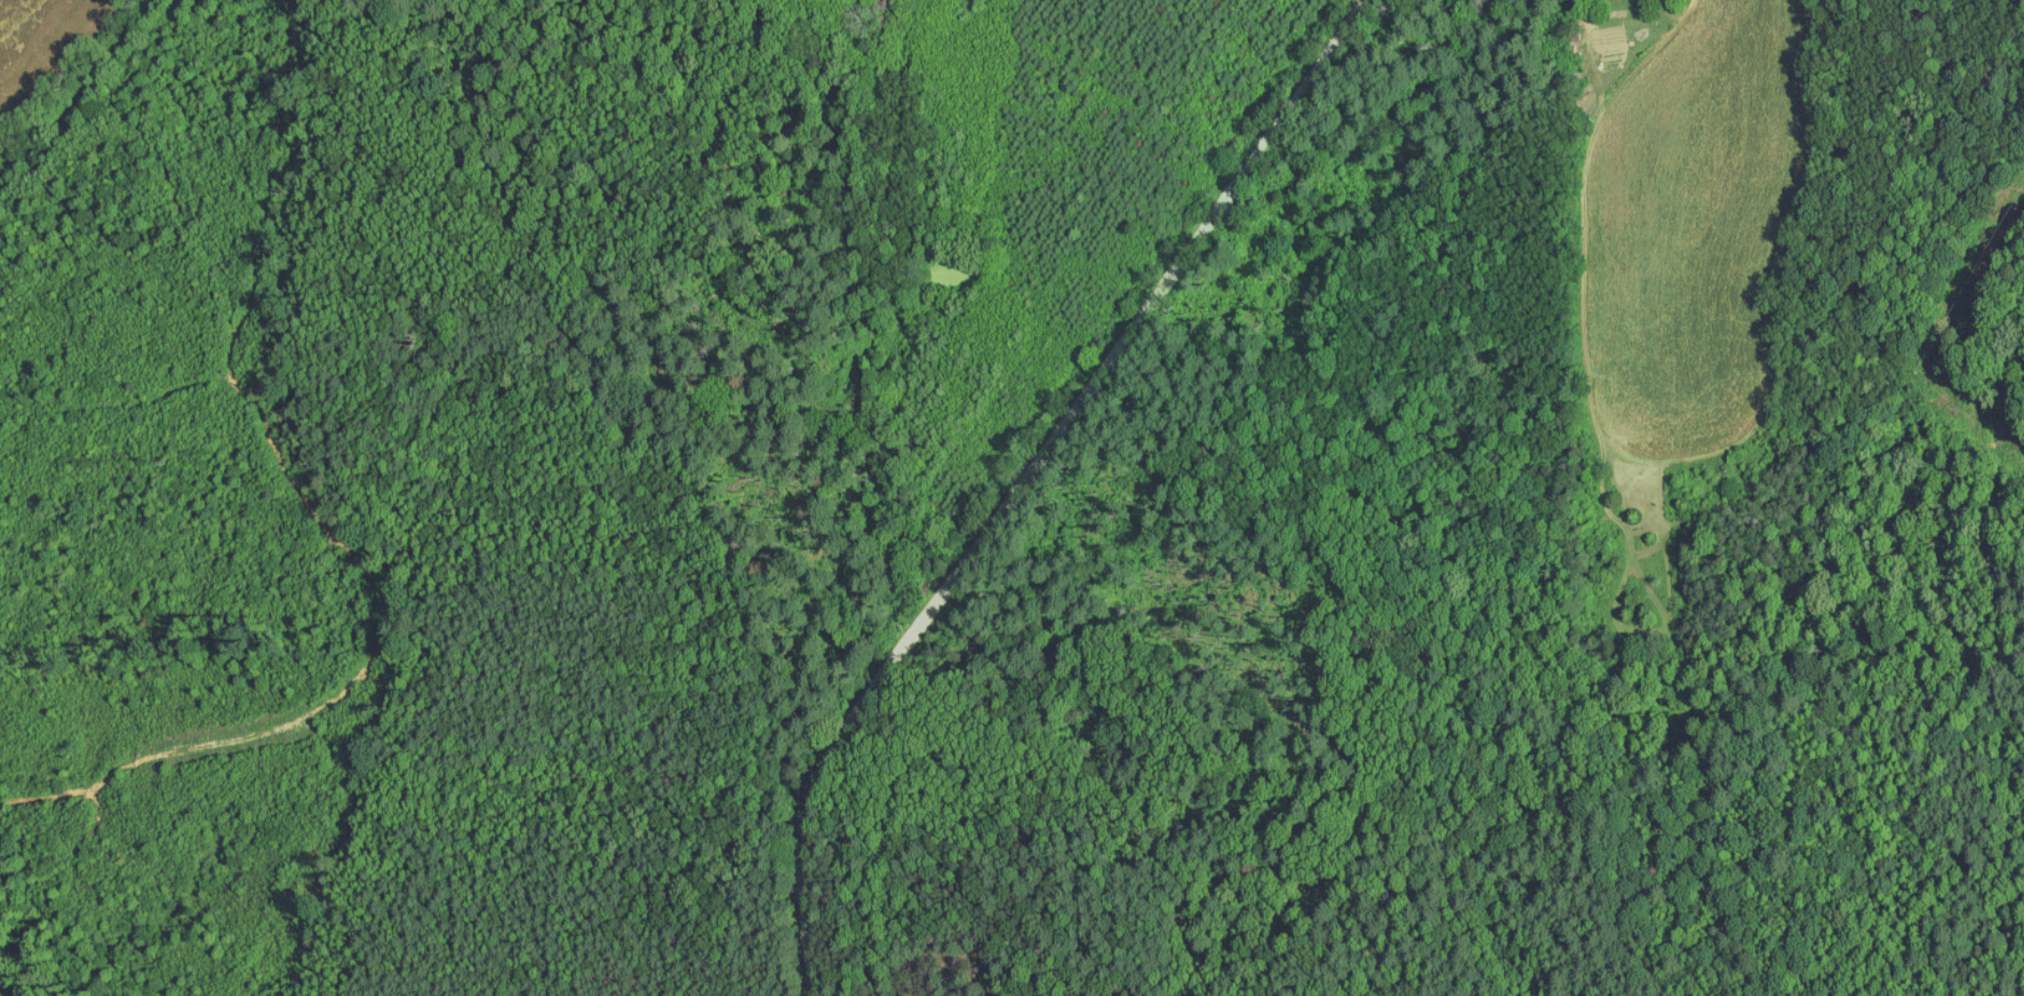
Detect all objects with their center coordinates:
road: (492, 144)
road: (599, 283)
road: (1027, 478)

